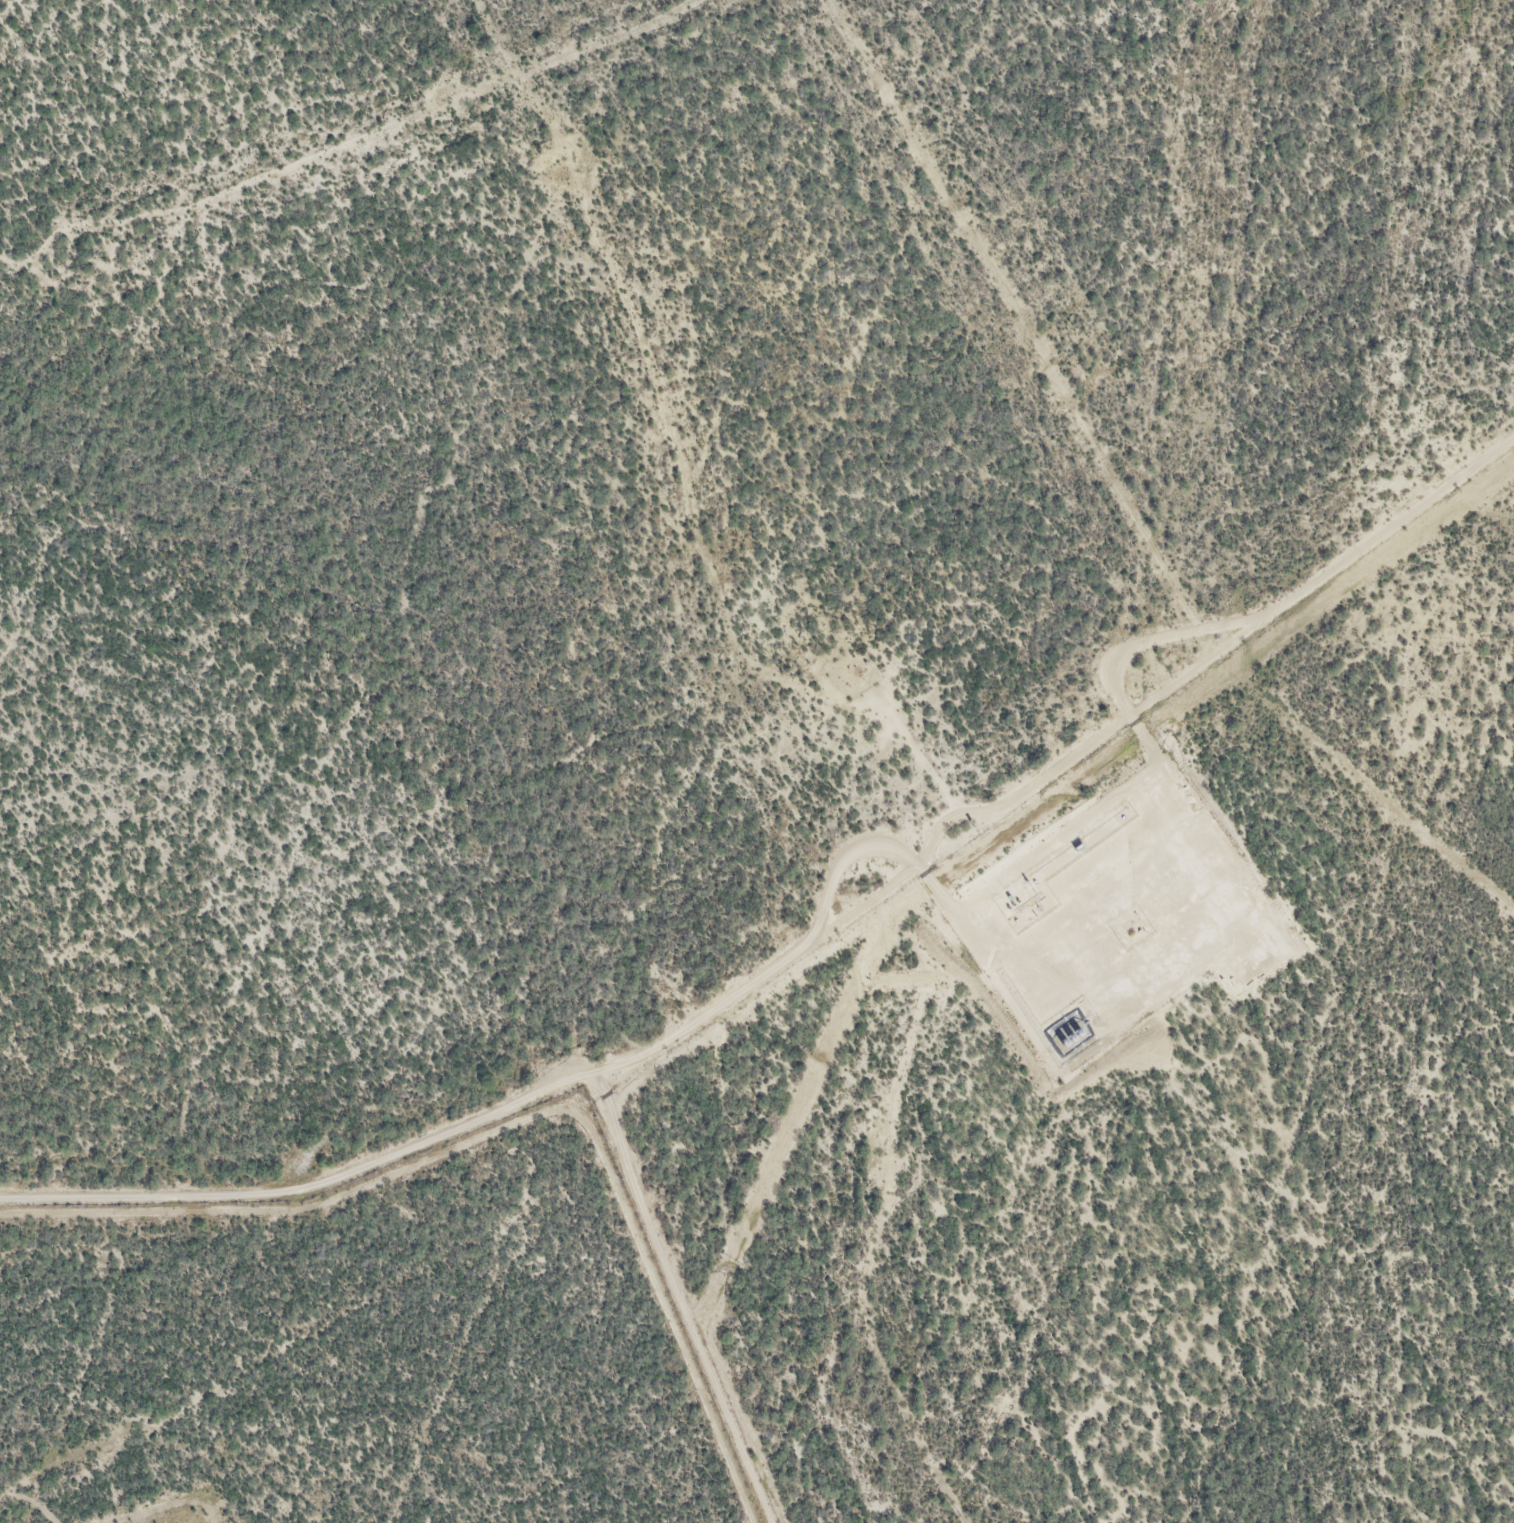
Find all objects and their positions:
road: (1114, 781)
road: (522, 1090)

